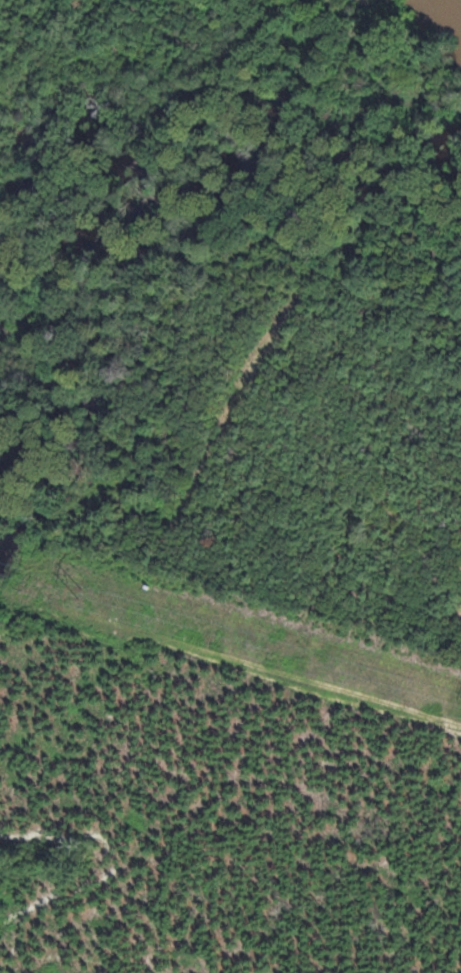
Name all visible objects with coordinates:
power tower: (82, 591)

